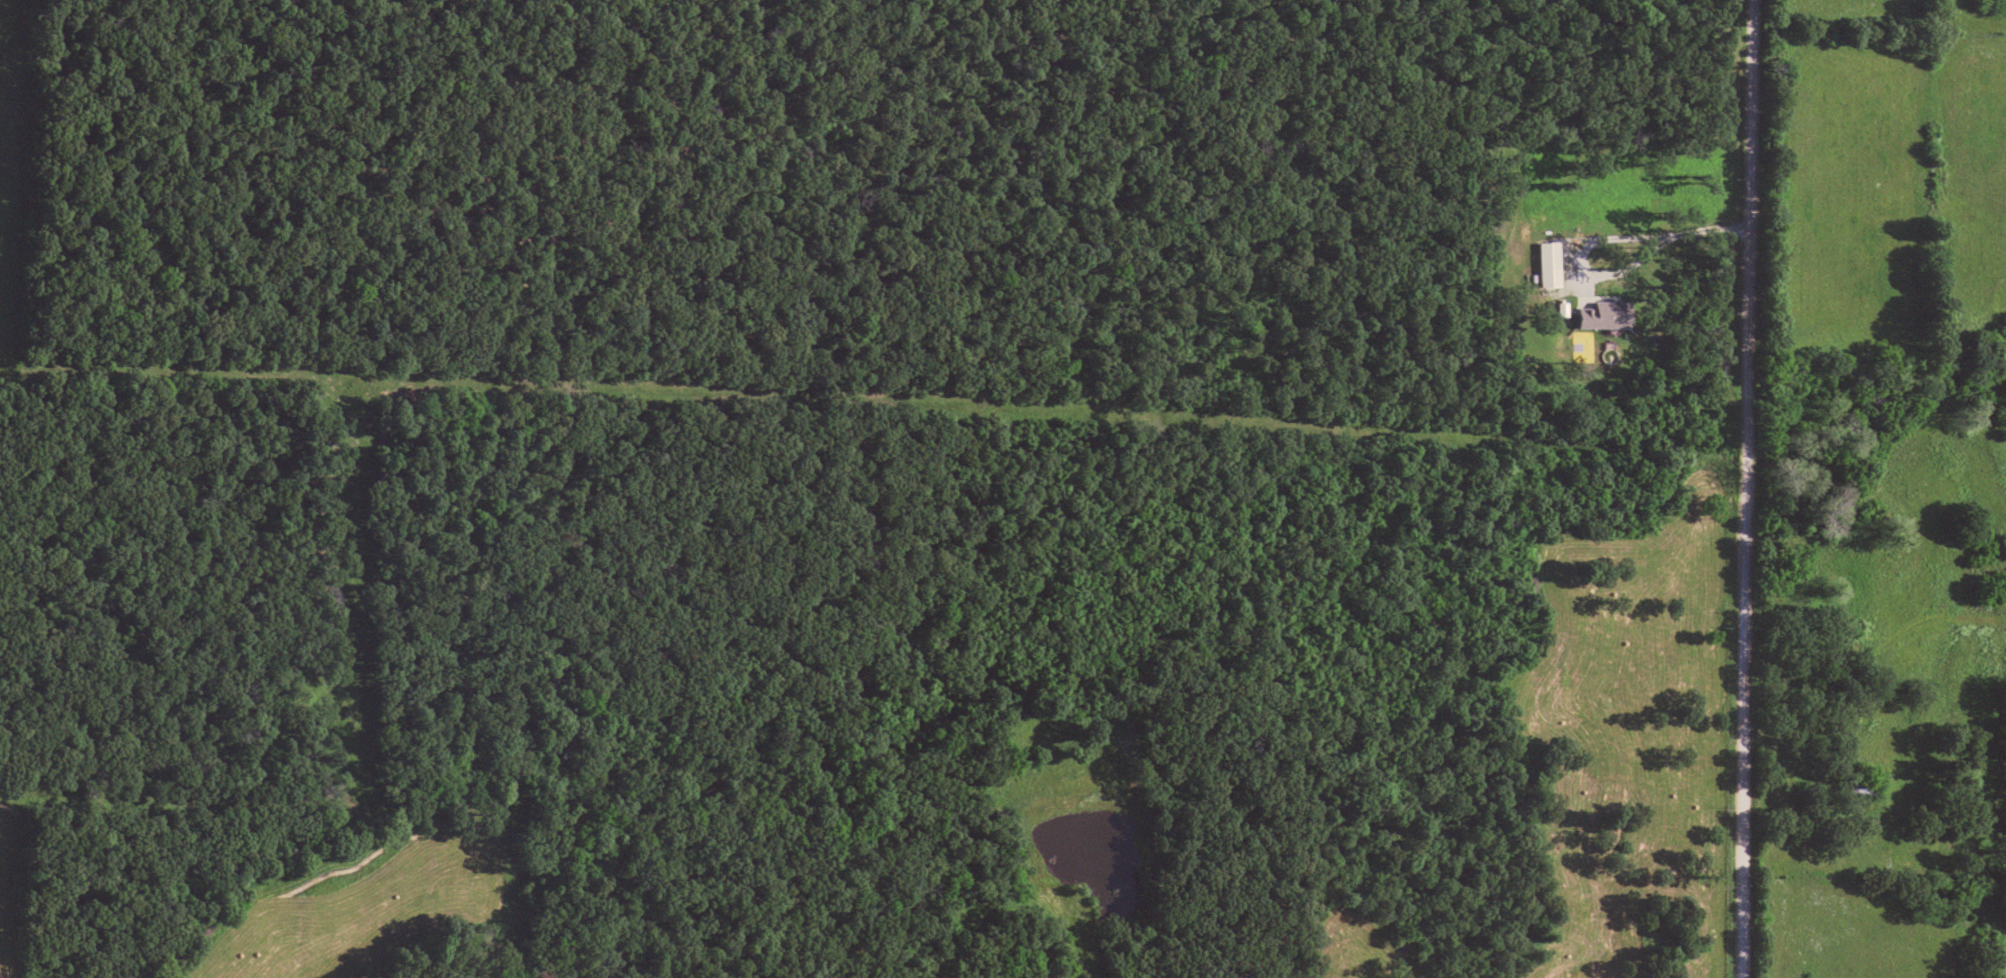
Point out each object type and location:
road: (1595, 237)
building: (1546, 262)
building: (1602, 313)
road: (1741, 488)
road: (1872, 642)

